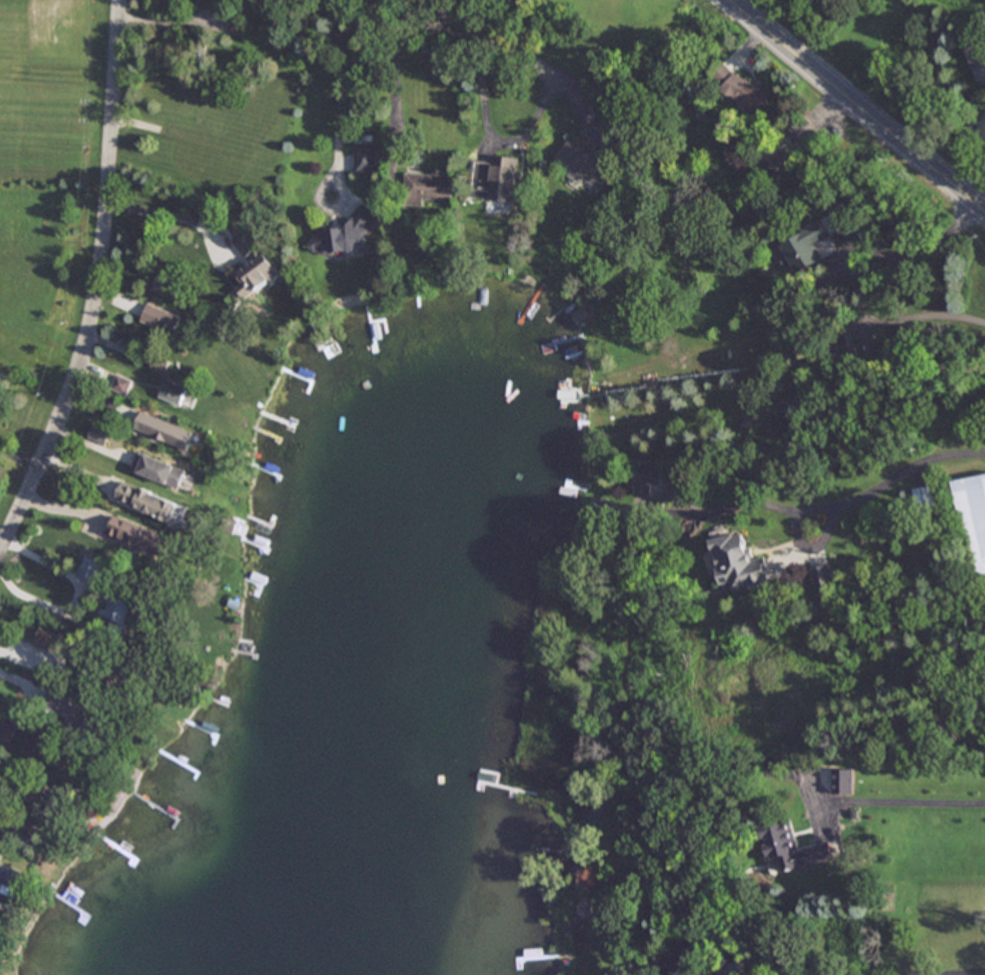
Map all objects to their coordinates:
road: (425, 20)
road: (171, 22)
road: (505, 45)
building: (977, 60)
road: (393, 79)
building: (747, 91)
road: (340, 95)
road: (855, 107)
building: (789, 140)
road: (503, 142)
building: (208, 154)
building: (365, 161)
building: (588, 161)
building: (495, 179)
building: (429, 186)
road: (174, 211)
building: (344, 235)
building: (803, 246)
road: (914, 263)
building: (255, 266)
road: (97, 285)
building: (168, 286)
building: (161, 318)
road: (928, 319)
building: (121, 384)
building: (173, 392)
building: (780, 427)
building: (164, 430)
building: (99, 433)
building: (159, 469)
road: (905, 472)
building: (644, 476)
building: (925, 501)
building: (151, 503)
building: (973, 522)
building: (140, 536)
road: (795, 536)
building: (737, 562)
building: (91, 568)
building: (821, 580)
road: (79, 596)
building: (119, 607)
building: (48, 640)
building: (772, 649)
road: (23, 683)
building: (740, 689)
building: (74, 711)
building: (7, 730)
building: (40, 746)
building: (841, 780)
road: (9, 791)
building: (40, 796)
building: (591, 812)
road: (903, 814)
building: (790, 846)
building: (680, 958)

